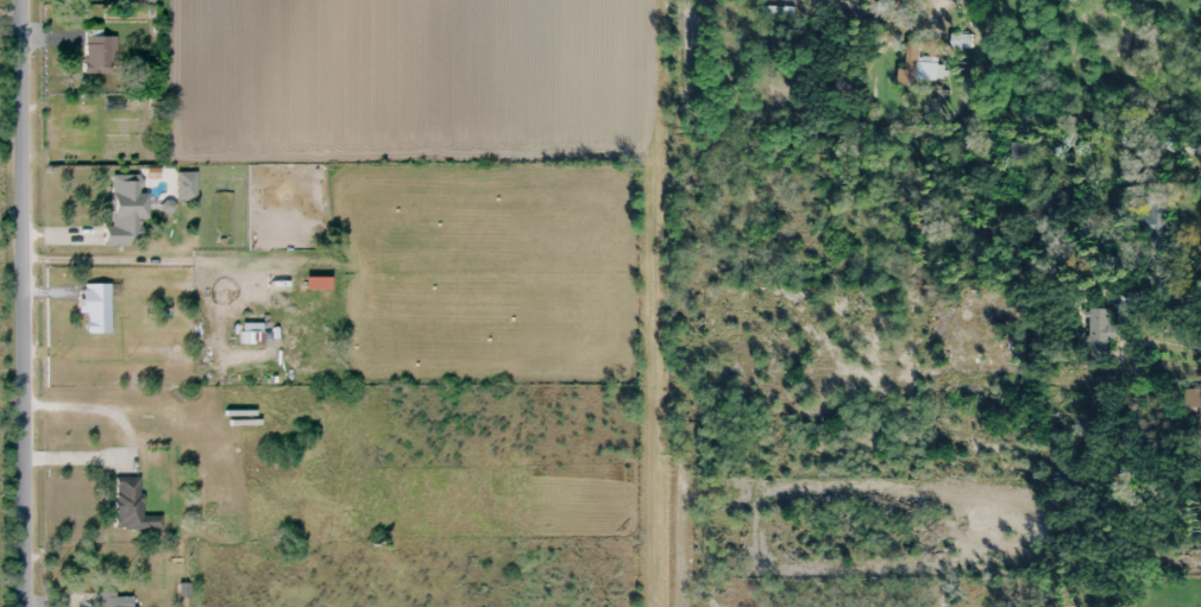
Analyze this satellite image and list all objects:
building: (115, 0)
building: (98, 53)
building: (1019, 151)
building: (124, 208)
road: (24, 303)
building: (289, 303)
building: (95, 308)
building: (205, 308)
building: (1095, 330)
building: (249, 334)
building: (294, 335)
building: (1084, 437)
building: (130, 506)
building: (112, 600)

